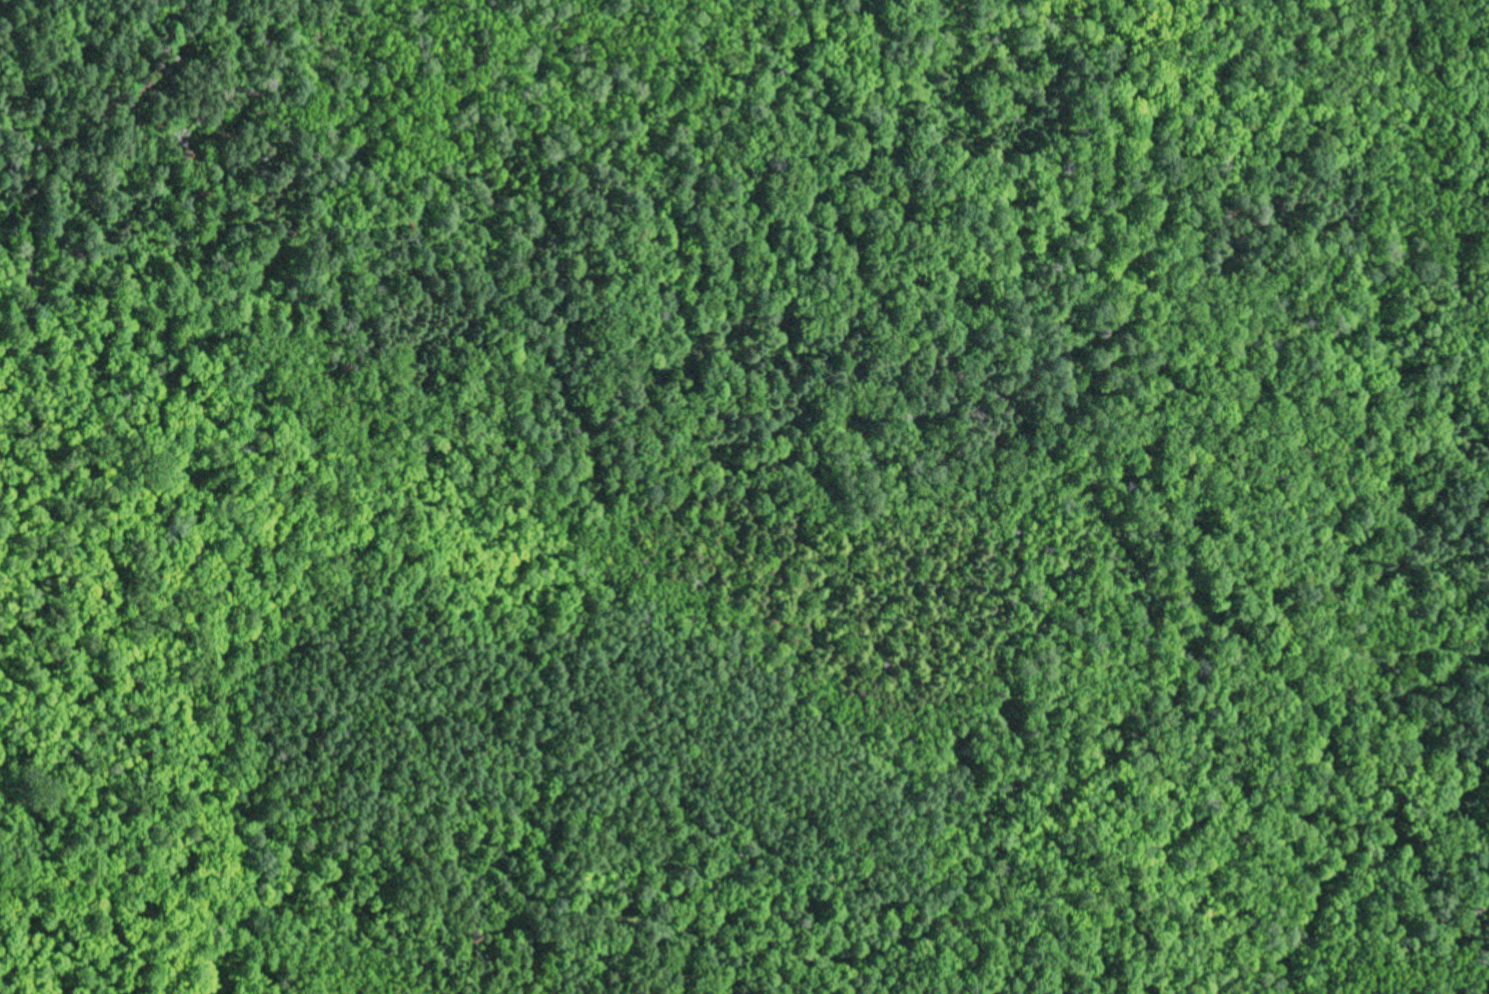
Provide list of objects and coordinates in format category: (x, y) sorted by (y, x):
road: (551, 897)

